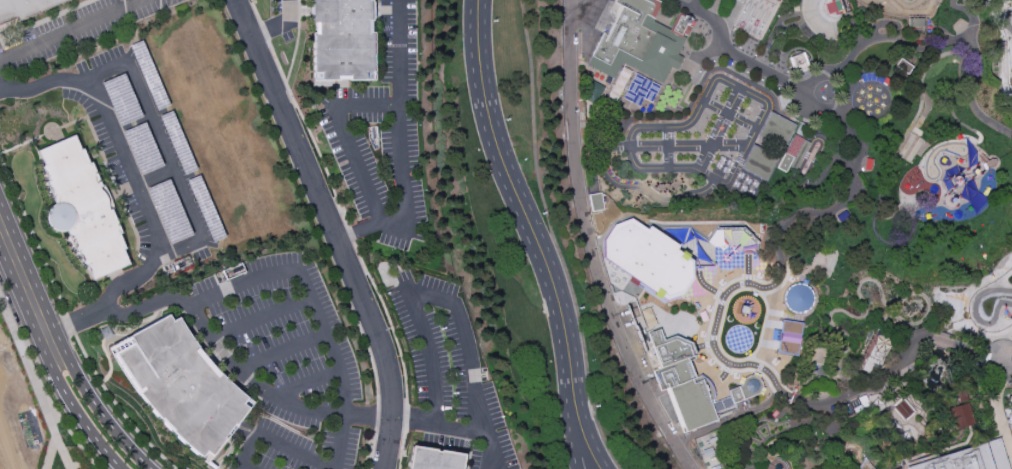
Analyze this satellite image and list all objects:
road: (140, 0)
building: (778, 0)
road: (687, 5)
building: (23, 10)
road: (255, 10)
road: (972, 16)
building: (826, 18)
road: (276, 26)
road: (71, 30)
road: (264, 31)
building: (342, 39)
building: (641, 39)
road: (863, 47)
building: (797, 63)
road: (108, 71)
building: (148, 75)
road: (43, 84)
building: (619, 85)
building: (120, 99)
road: (735, 102)
road: (364, 106)
road: (532, 114)
road: (731, 116)
road: (398, 119)
road: (844, 126)
road: (652, 129)
road: (309, 132)
building: (778, 132)
building: (177, 143)
road: (749, 147)
building: (141, 148)
road: (166, 149)
road: (669, 149)
building: (909, 149)
road: (606, 154)
building: (789, 154)
parking lot: (143, 158)
road: (704, 158)
building: (760, 165)
road: (129, 167)
road: (831, 167)
road: (355, 172)
road: (814, 177)
road: (593, 183)
road: (929, 191)
building: (595, 202)
building: (204, 208)
building: (82, 209)
building: (168, 212)
road: (880, 213)
road: (537, 215)
road: (518, 218)
theme park: (798, 222)
road: (331, 230)
road: (355, 232)
road: (350, 234)
road: (32, 236)
road: (884, 243)
road: (591, 245)
road: (778, 252)
building: (647, 258)
road: (16, 264)
road: (125, 283)
building: (797, 298)
road: (317, 309)
road: (261, 317)
building: (648, 317)
road: (388, 320)
road: (70, 324)
building: (788, 337)
road: (945, 342)
road: (19, 347)
road: (583, 349)
road: (367, 350)
road: (281, 351)
road: (430, 355)
road: (469, 362)
road: (980, 363)
road: (307, 380)
building: (682, 384)
building: (180, 385)
road: (85, 390)
road: (64, 392)
building: (746, 392)
road: (848, 394)
road: (274, 395)
building: (1010, 401)
road: (117, 407)
building: (903, 409)
road: (377, 417)
building: (960, 417)
road: (406, 418)
road: (712, 429)
road: (53, 430)
road: (68, 430)
building: (1011, 434)
road: (247, 446)
road: (298, 450)
road: (372, 450)
road: (400, 450)
road: (596, 451)
road: (51, 453)
road: (573, 453)
building: (971, 459)
building: (433, 460)
crop: (1, 464)
road: (247, 466)
road: (491, 466)

